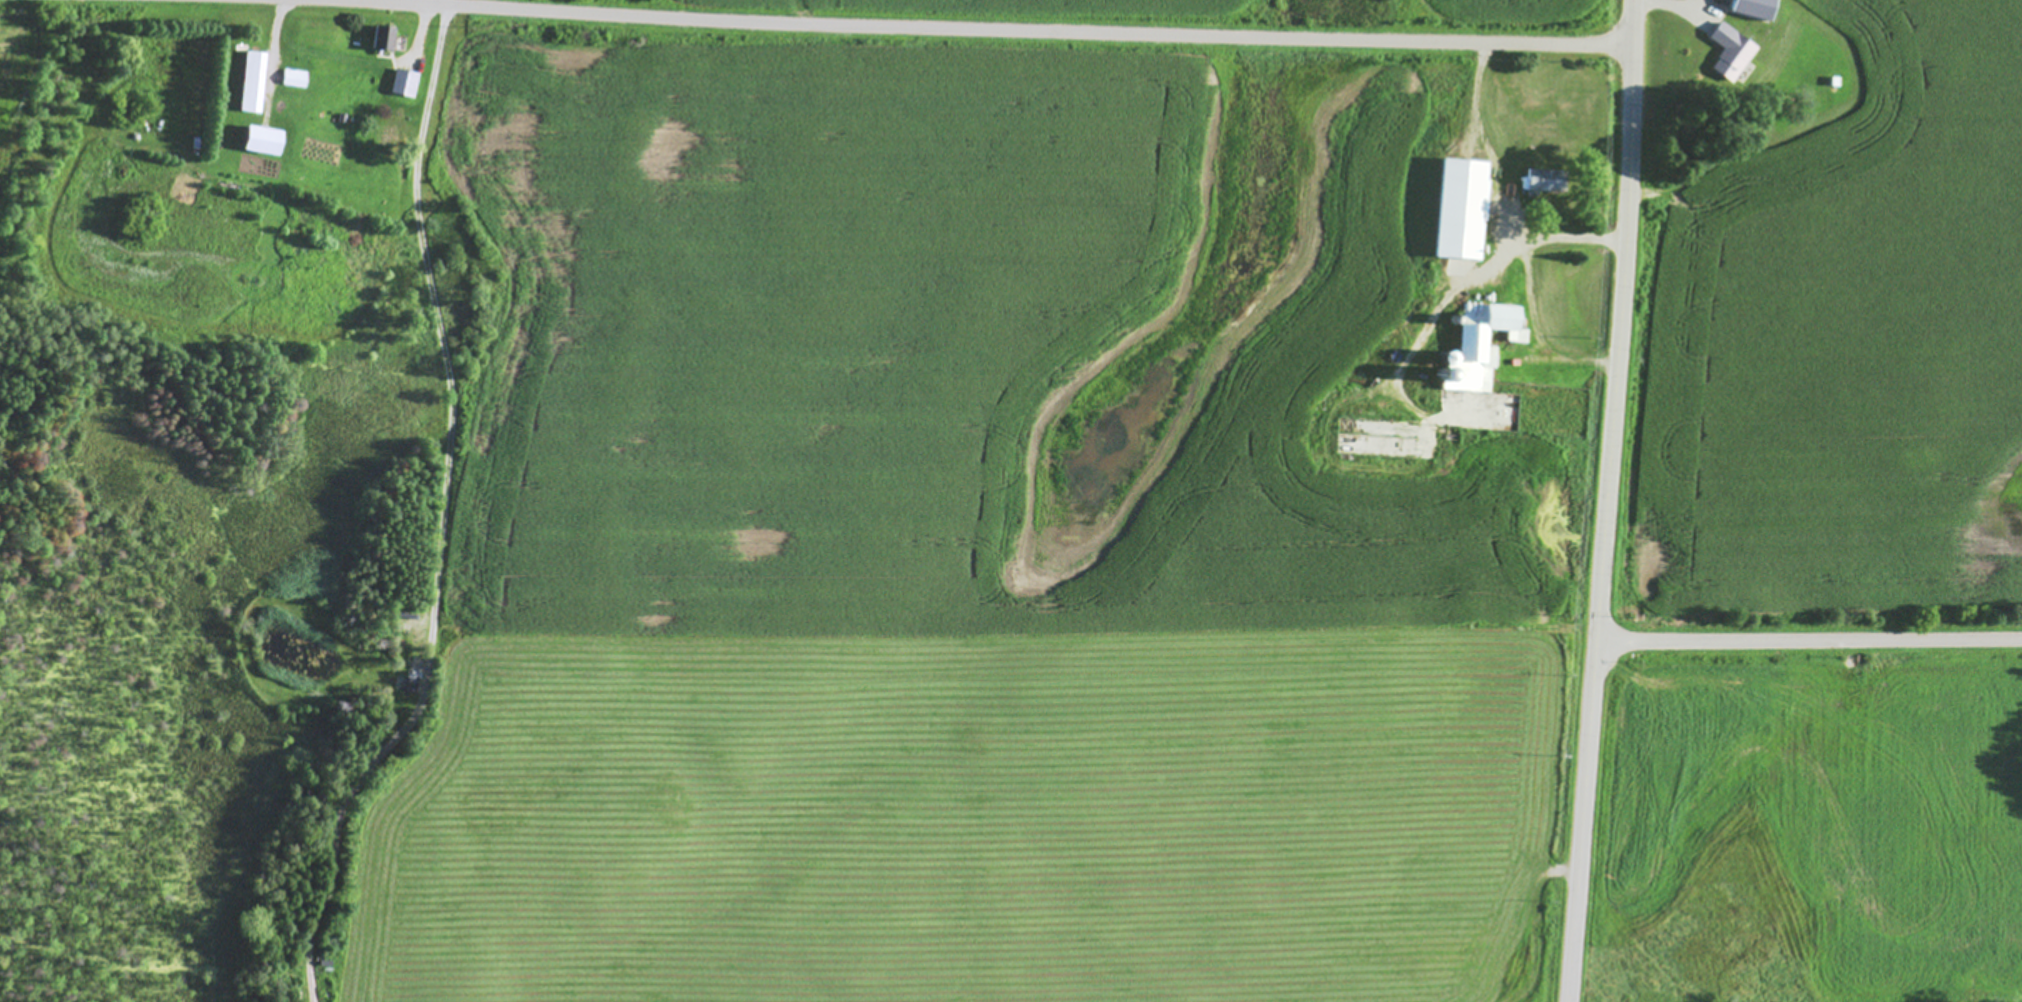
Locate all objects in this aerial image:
building: (1756, 8)
road: (994, 28)
building: (384, 38)
building: (1731, 52)
building: (294, 78)
building: (253, 82)
building: (405, 83)
building: (264, 141)
road: (1485, 148)
building: (1544, 181)
building: (1462, 209)
road: (1531, 287)
building: (1479, 347)
road: (1607, 501)
road: (1809, 637)

